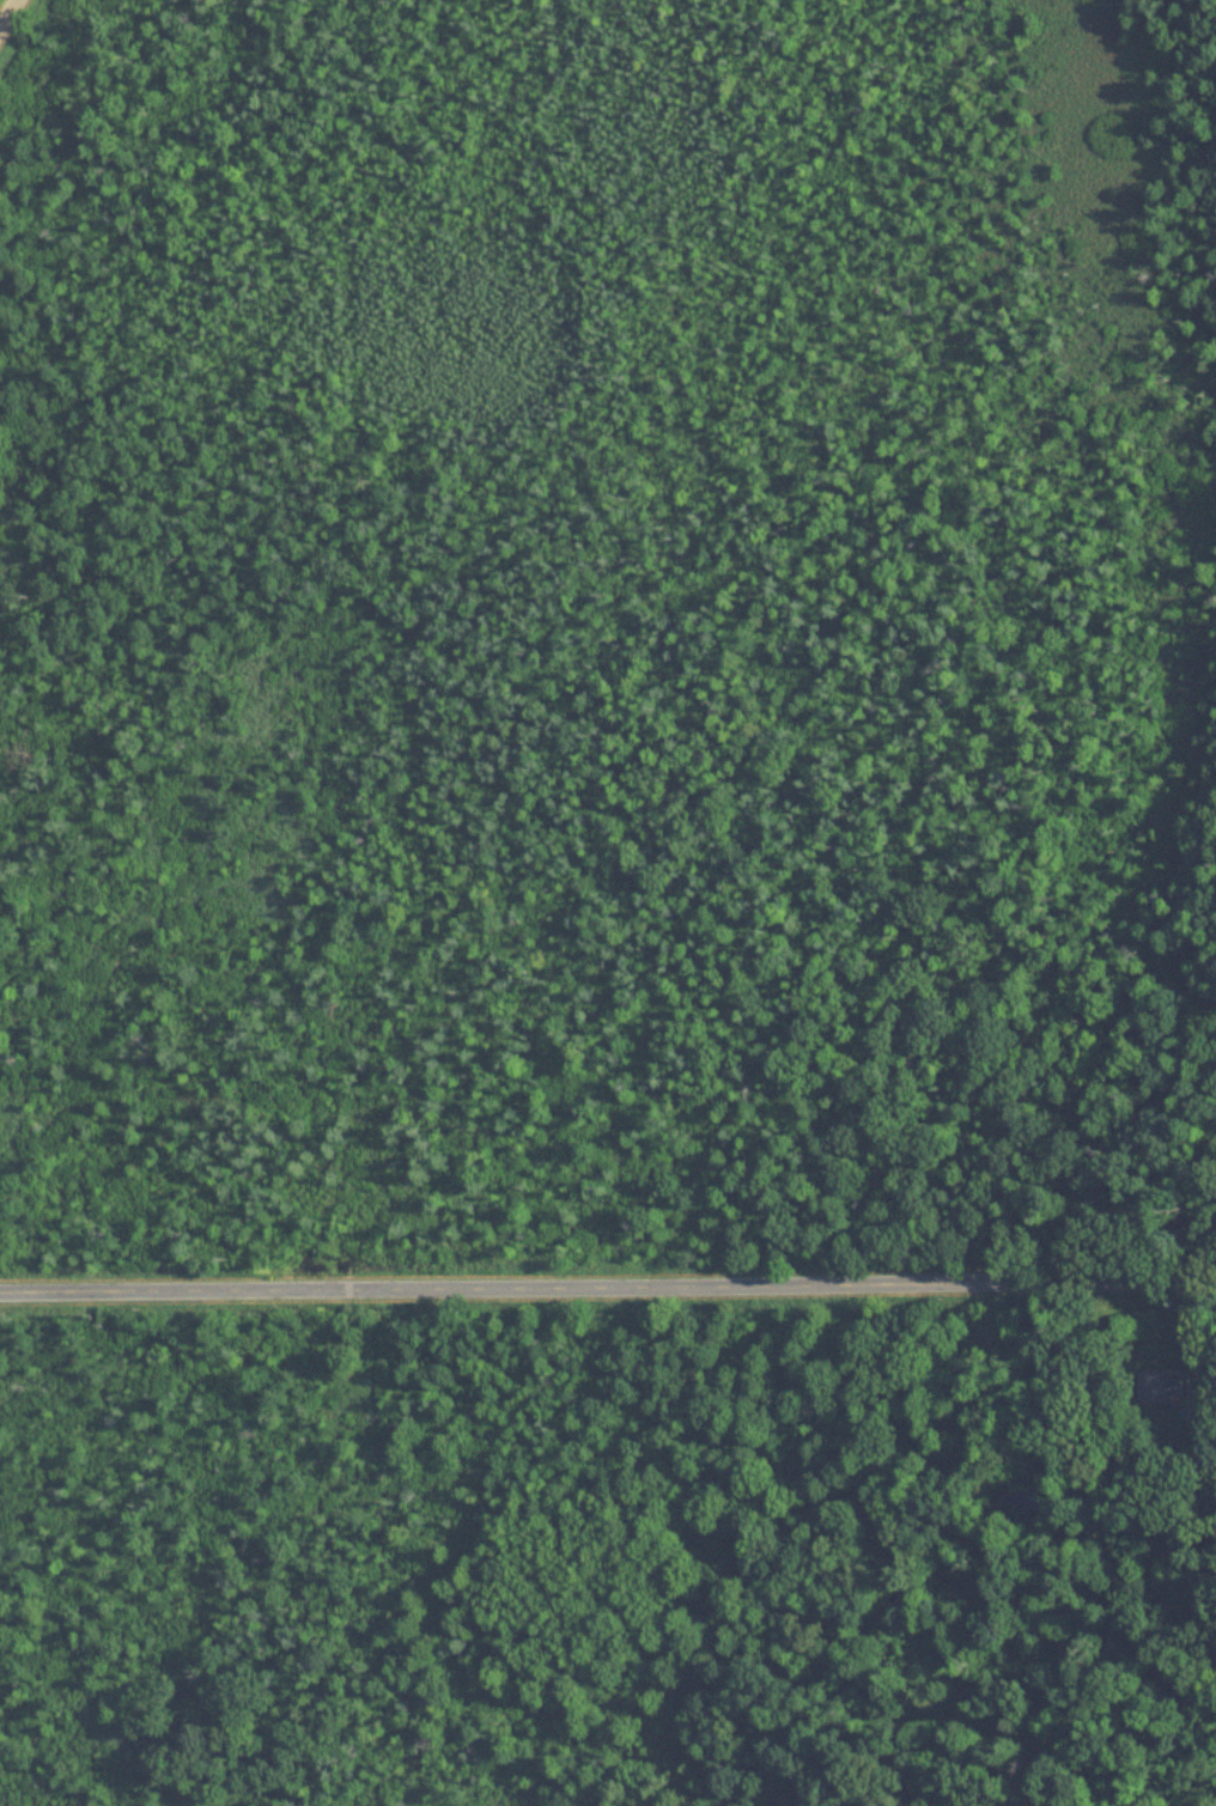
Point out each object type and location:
road: (6, 11)
road: (608, 1287)
building: (1156, 1388)
building: (1199, 1403)

